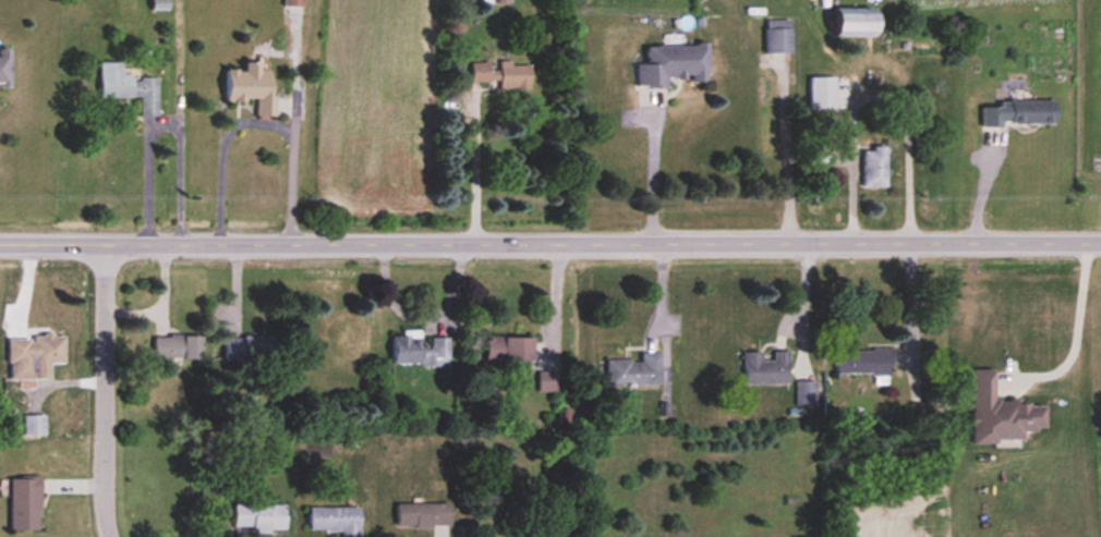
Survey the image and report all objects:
building: (501, 1)
building: (293, 3)
building: (857, 23)
building: (778, 36)
building: (673, 65)
building: (5, 68)
road: (294, 72)
building: (503, 75)
building: (130, 87)
building: (252, 88)
road: (876, 94)
building: (1021, 114)
road: (257, 121)
road: (161, 123)
building: (875, 168)
road: (476, 169)
road: (653, 180)
road: (549, 240)
road: (161, 298)
road: (556, 300)
road: (424, 321)
road: (1077, 331)
building: (179, 347)
building: (251, 349)
building: (420, 351)
building: (509, 352)
building: (35, 357)
building: (864, 363)
building: (766, 369)
building: (636, 371)
road: (107, 389)
building: (1001, 415)
building: (25, 504)
building: (424, 515)
building: (259, 516)
building: (335, 518)

